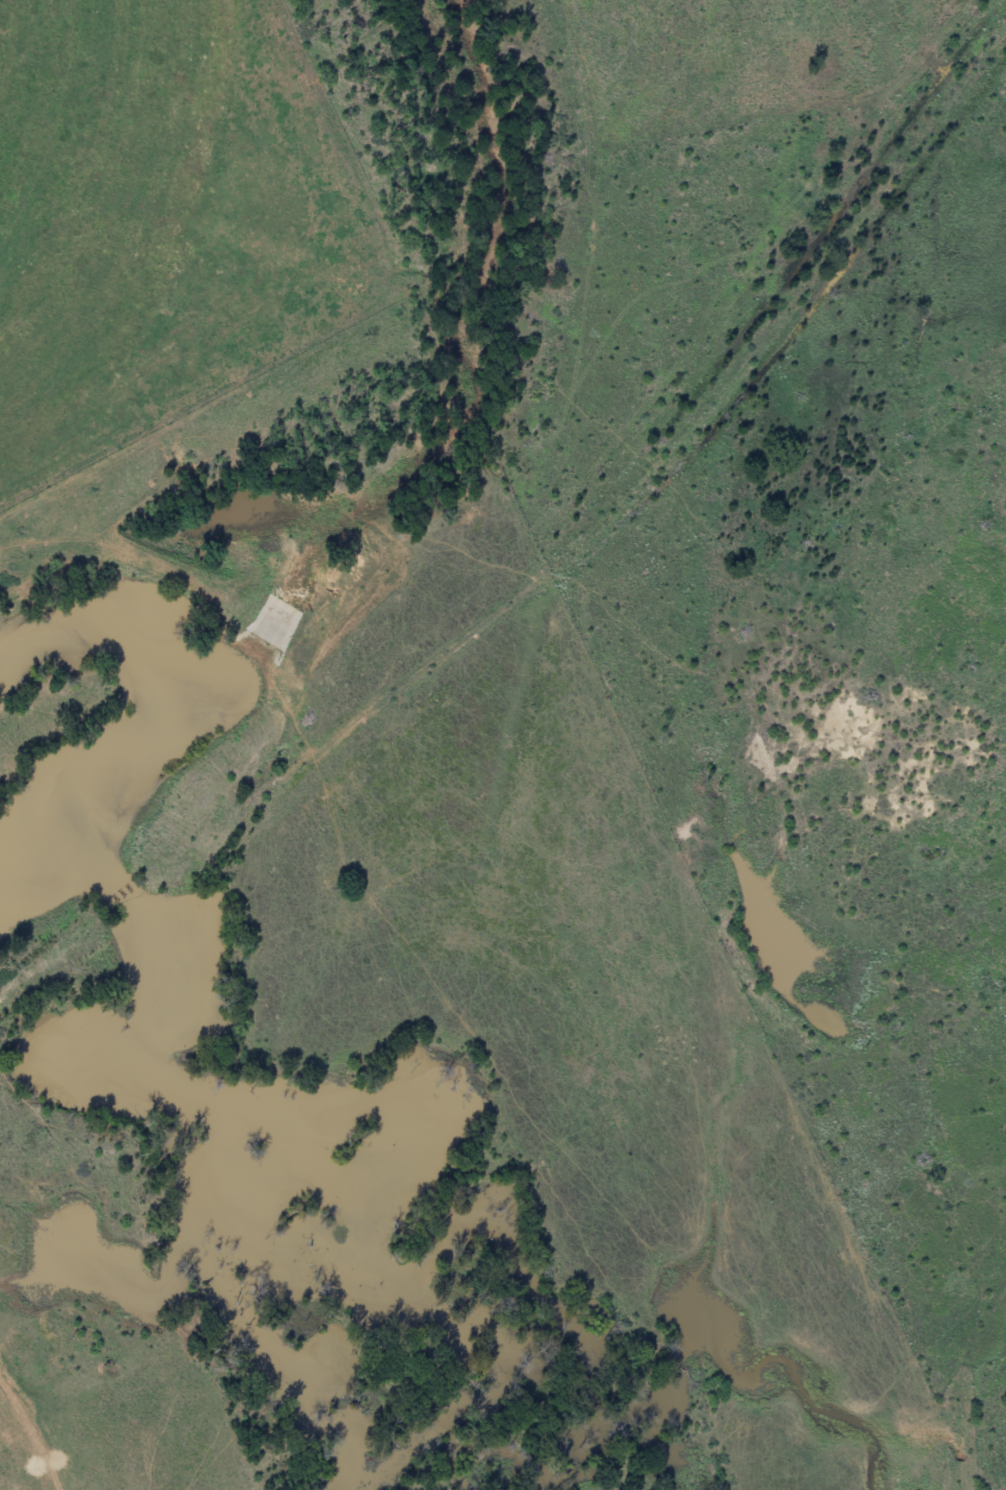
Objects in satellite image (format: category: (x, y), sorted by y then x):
railway: (544, 571)
road: (985, 1432)

